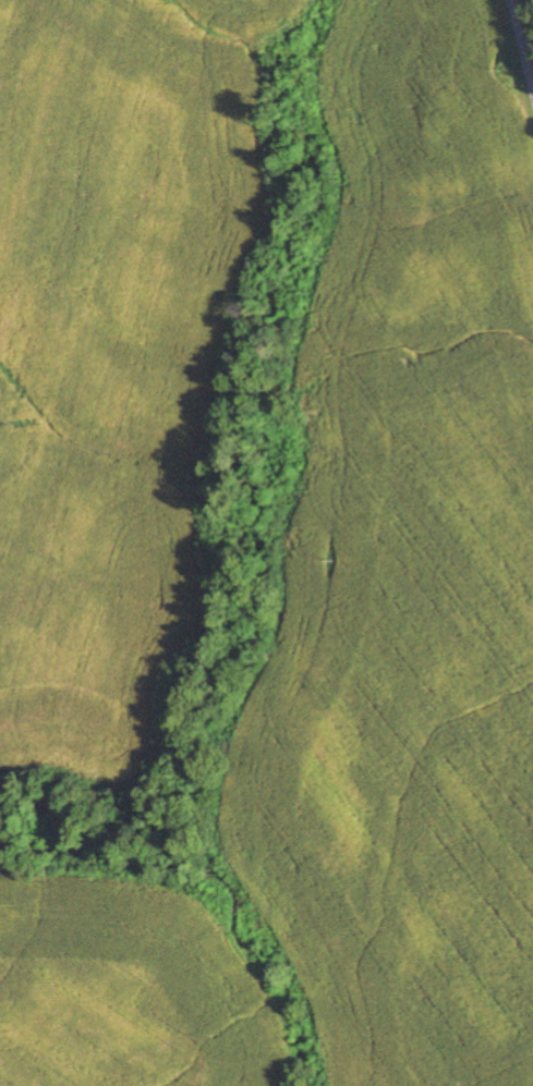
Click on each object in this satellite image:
road: (523, 36)

